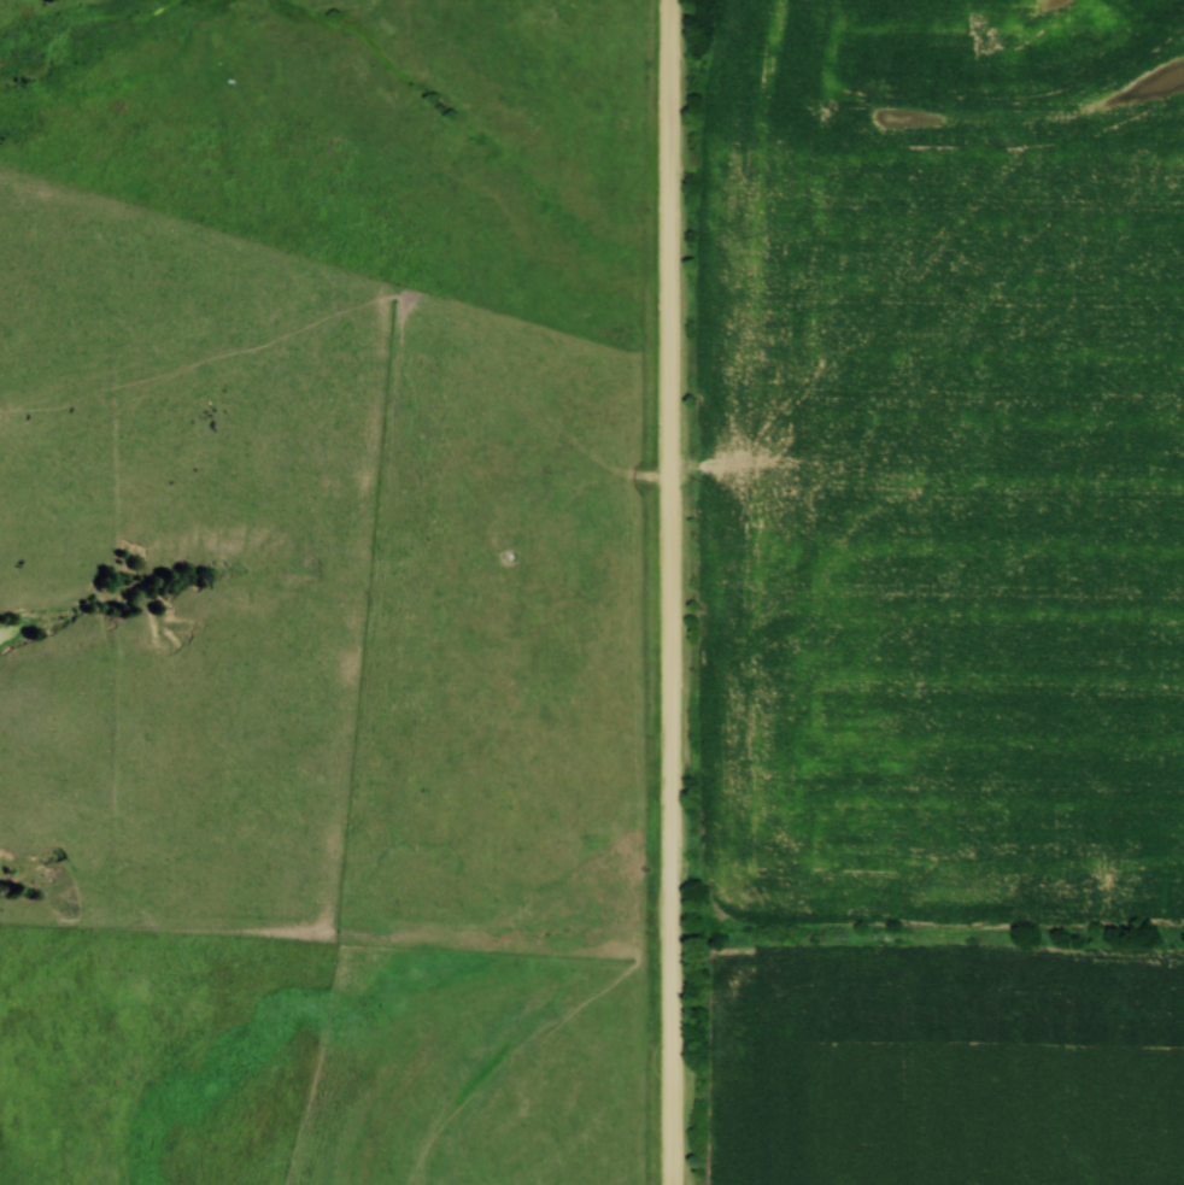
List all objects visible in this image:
road: (664, 592)

